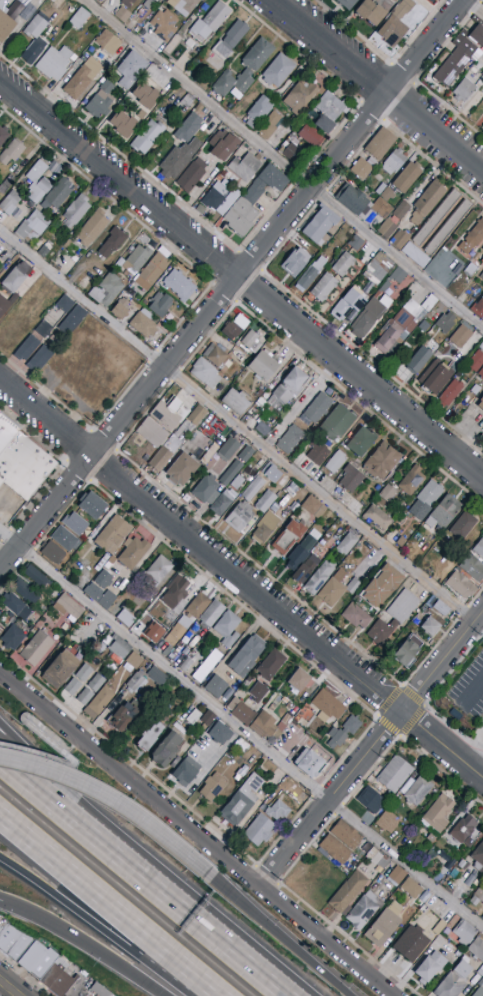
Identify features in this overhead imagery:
building: (156, 0)
building: (202, 0)
building: (425, 0)
building: (431, 0)
building: (396, 1)
building: (128, 3)
building: (148, 4)
building: (347, 4)
building: (183, 6)
road: (474, 7)
building: (371, 13)
building: (10, 15)
building: (122, 15)
building: (80, 18)
building: (210, 22)
building: (36, 25)
building: (164, 25)
building: (396, 25)
building: (477, 36)
building: (230, 39)
building: (108, 42)
building: (34, 50)
building: (258, 55)
building: (74, 58)
building: (457, 59)
building: (54, 62)
building: (130, 70)
building: (278, 70)
building: (481, 71)
building: (482, 74)
building: (83, 78)
building: (233, 83)
road: (379, 85)
building: (464, 90)
building: (146, 96)
building: (300, 96)
building: (482, 98)
building: (99, 99)
building: (187, 101)
building: (199, 109)
building: (327, 109)
building: (205, 111)
building: (258, 112)
building: (477, 113)
building: (142, 114)
building: (122, 124)
building: (269, 126)
building: (188, 128)
building: (3, 135)
building: (310, 135)
building: (278, 136)
building: (147, 137)
building: (381, 144)
building: (224, 147)
building: (12, 152)
building: (409, 155)
building: (295, 156)
building: (179, 159)
building: (394, 162)
road: (283, 164)
building: (245, 167)
building: (361, 169)
building: (192, 175)
building: (407, 177)
building: (38, 182)
building: (380, 189)
building: (58, 194)
building: (388, 194)
building: (215, 195)
building: (253, 200)
building: (354, 201)
building: (425, 201)
building: (10, 202)
building: (228, 203)
building: (382, 208)
building: (401, 210)
building: (76, 211)
building: (437, 218)
building: (33, 225)
building: (320, 225)
building: (388, 227)
building: (92, 228)
building: (448, 228)
building: (400, 238)
building: (473, 238)
building: (112, 242)
building: (356, 243)
building: (68, 244)
building: (482, 249)
building: (44, 250)
building: (415, 255)
building: (75, 259)
building: (136, 259)
building: (295, 262)
building: (482, 263)
building: (342, 264)
building: (379, 269)
building: (446, 269)
building: (470, 270)
building: (152, 272)
building: (311, 273)
building: (401, 274)
building: (16, 277)
road: (242, 279)
building: (111, 284)
road: (231, 284)
building: (179, 286)
building: (324, 287)
building: (96, 295)
building: (6, 303)
building: (65, 304)
building: (161, 304)
building: (350, 304)
building: (120, 309)
building: (478, 309)
building: (434, 315)
building: (370, 316)
building: (72, 321)
building: (404, 322)
building: (445, 322)
building: (144, 323)
building: (43, 329)
building: (231, 330)
building: (457, 335)
building: (250, 339)
building: (27, 348)
building: (217, 357)
building: (39, 358)
building: (419, 360)
building: (475, 361)
building: (263, 365)
building: (481, 373)
building: (458, 374)
building: (207, 376)
building: (438, 378)
building: (286, 389)
building: (259, 393)
building: (450, 394)
building: (235, 402)
building: (261, 403)
building: (481, 404)
building: (316, 409)
building: (168, 414)
building: (197, 415)
building: (338, 422)
road: (238, 425)
building: (6, 431)
building: (152, 433)
building: (482, 436)
building: (290, 439)
building: (361, 442)
building: (170, 447)
building: (229, 448)
building: (318, 453)
building: (246, 454)
building: (381, 461)
building: (335, 462)
building: (24, 467)
road: (59, 467)
building: (182, 469)
building: (229, 473)
building: (274, 476)
building: (351, 478)
building: (411, 481)
building: (237, 482)
building: (252, 489)
building: (206, 490)
building: (295, 490)
building: (387, 493)
building: (426, 500)
building: (266, 501)
building: (223, 502)
building: (92, 506)
building: (275, 507)
building: (313, 507)
building: (444, 513)
building: (240, 517)
building: (377, 517)
building: (334, 519)
building: (75, 523)
building: (463, 526)
building: (265, 527)
building: (113, 535)
building: (289, 536)
building: (65, 539)
building: (401, 541)
building: (325, 542)
building: (347, 544)
building: (469, 544)
building: (478, 550)
building: (53, 553)
building: (300, 553)
building: (133, 554)
building: (112, 559)
building: (108, 565)
building: (472, 568)
building: (306, 569)
building: (158, 571)
building: (37, 577)
building: (320, 577)
building: (105, 578)
road: (241, 579)
building: (461, 585)
building: (382, 586)
building: (337, 587)
building: (179, 589)
building: (24, 590)
building: (117, 592)
building: (100, 596)
building: (15, 605)
building: (403, 606)
building: (68, 607)
building: (438, 607)
building: (138, 614)
building: (211, 614)
building: (359, 614)
building: (188, 618)
building: (124, 619)
building: (135, 626)
building: (430, 626)
building: (228, 629)
building: (381, 630)
building: (154, 632)
road: (442, 637)
building: (13, 638)
building: (115, 646)
building: (36, 649)
building: (408, 651)
building: (247, 656)
building: (135, 661)
building: (271, 664)
building: (186, 665)
building: (207, 666)
building: (61, 668)
building: (84, 673)
building: (158, 676)
building: (298, 681)
building: (96, 683)
building: (135, 683)
building: (73, 687)
building: (216, 687)
road: (402, 687)
parking lot: (471, 691)
building: (258, 692)
road: (474, 693)
building: (85, 696)
road: (431, 696)
building: (99, 703)
building: (289, 704)
building: (328, 706)
building: (241, 711)
building: (193, 717)
road: (24, 719)
building: (121, 719)
building: (207, 719)
building: (352, 725)
building: (269, 726)
road: (241, 729)
building: (220, 733)
building: (150, 736)
building: (336, 738)
road: (371, 748)
building: (166, 749)
road: (37, 753)
building: (310, 763)
building: (186, 771)
road: (441, 771)
building: (395, 774)
building: (213, 787)
building: (416, 790)
building: (290, 791)
building: (371, 800)
building: (241, 801)
road: (116, 804)
building: (277, 811)
building: (437, 814)
building: (388, 822)
building: (259, 830)
building: (464, 830)
road: (109, 831)
building: (346, 835)
road: (197, 836)
building: (365, 846)
park: (1, 847)
building: (335, 849)
building: (478, 857)
building: (378, 860)
building: (462, 865)
building: (395, 877)
road: (142, 879)
building: (471, 881)
building: (411, 888)
building: (348, 892)
park: (18, 893)
building: (477, 896)
road: (112, 905)
building: (328, 911)
building: (362, 911)
road: (97, 916)
building: (482, 917)
building: (336, 918)
building: (384, 926)
building: (464, 933)
road: (284, 937)
building: (14, 942)
building: (411, 943)
road: (83, 945)
building: (476, 949)
building: (458, 954)
building: (39, 961)
building: (430, 967)
building: (479, 969)
building: (455, 979)
building: (60, 981)
building: (480, 983)
road: (8, 988)
building: (99, 990)
building: (479, 992)

